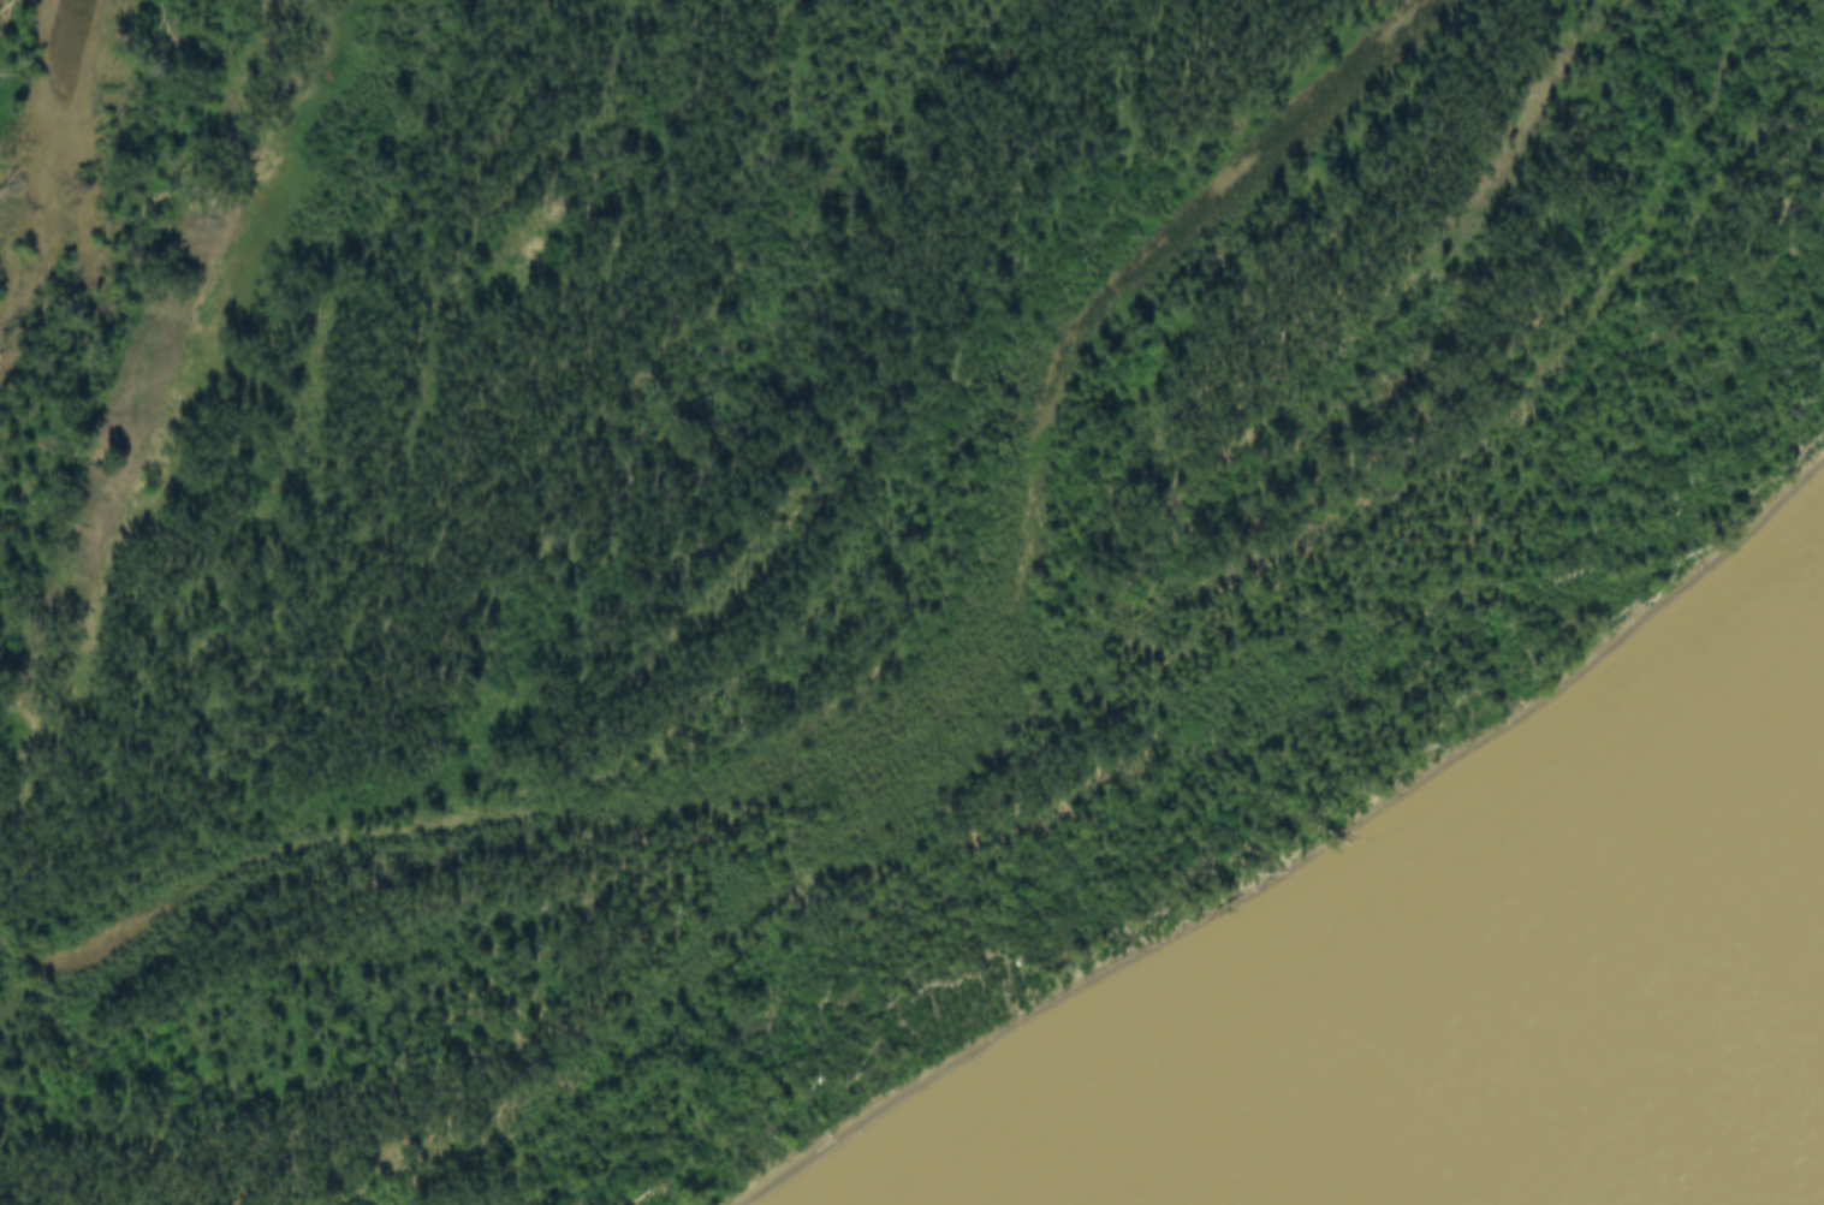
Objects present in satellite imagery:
river: (1531, 975)

